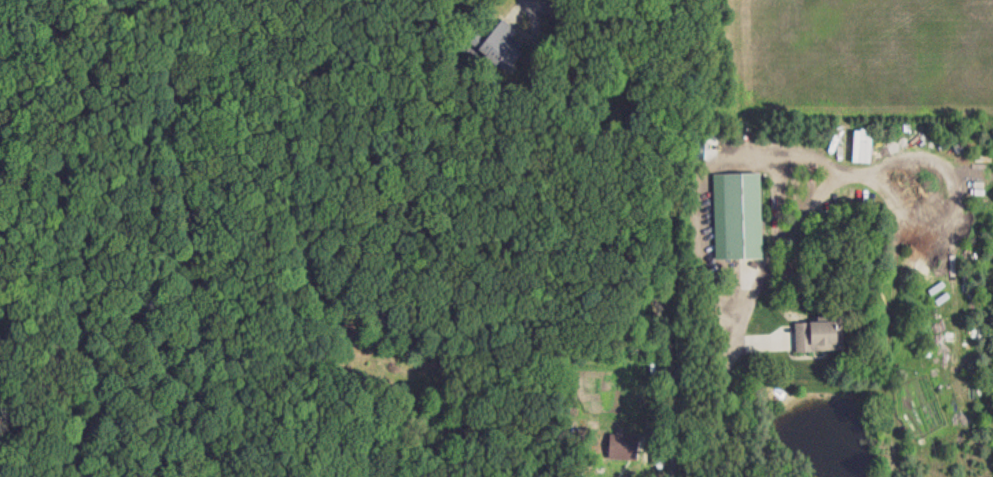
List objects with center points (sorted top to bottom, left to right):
building: (494, 40)
building: (859, 145)
road: (852, 173)
building: (735, 215)
road: (794, 227)
road: (622, 230)
road: (201, 237)
road: (48, 238)
road: (67, 238)
building: (811, 336)
road: (724, 384)
road: (409, 437)
building: (620, 444)

